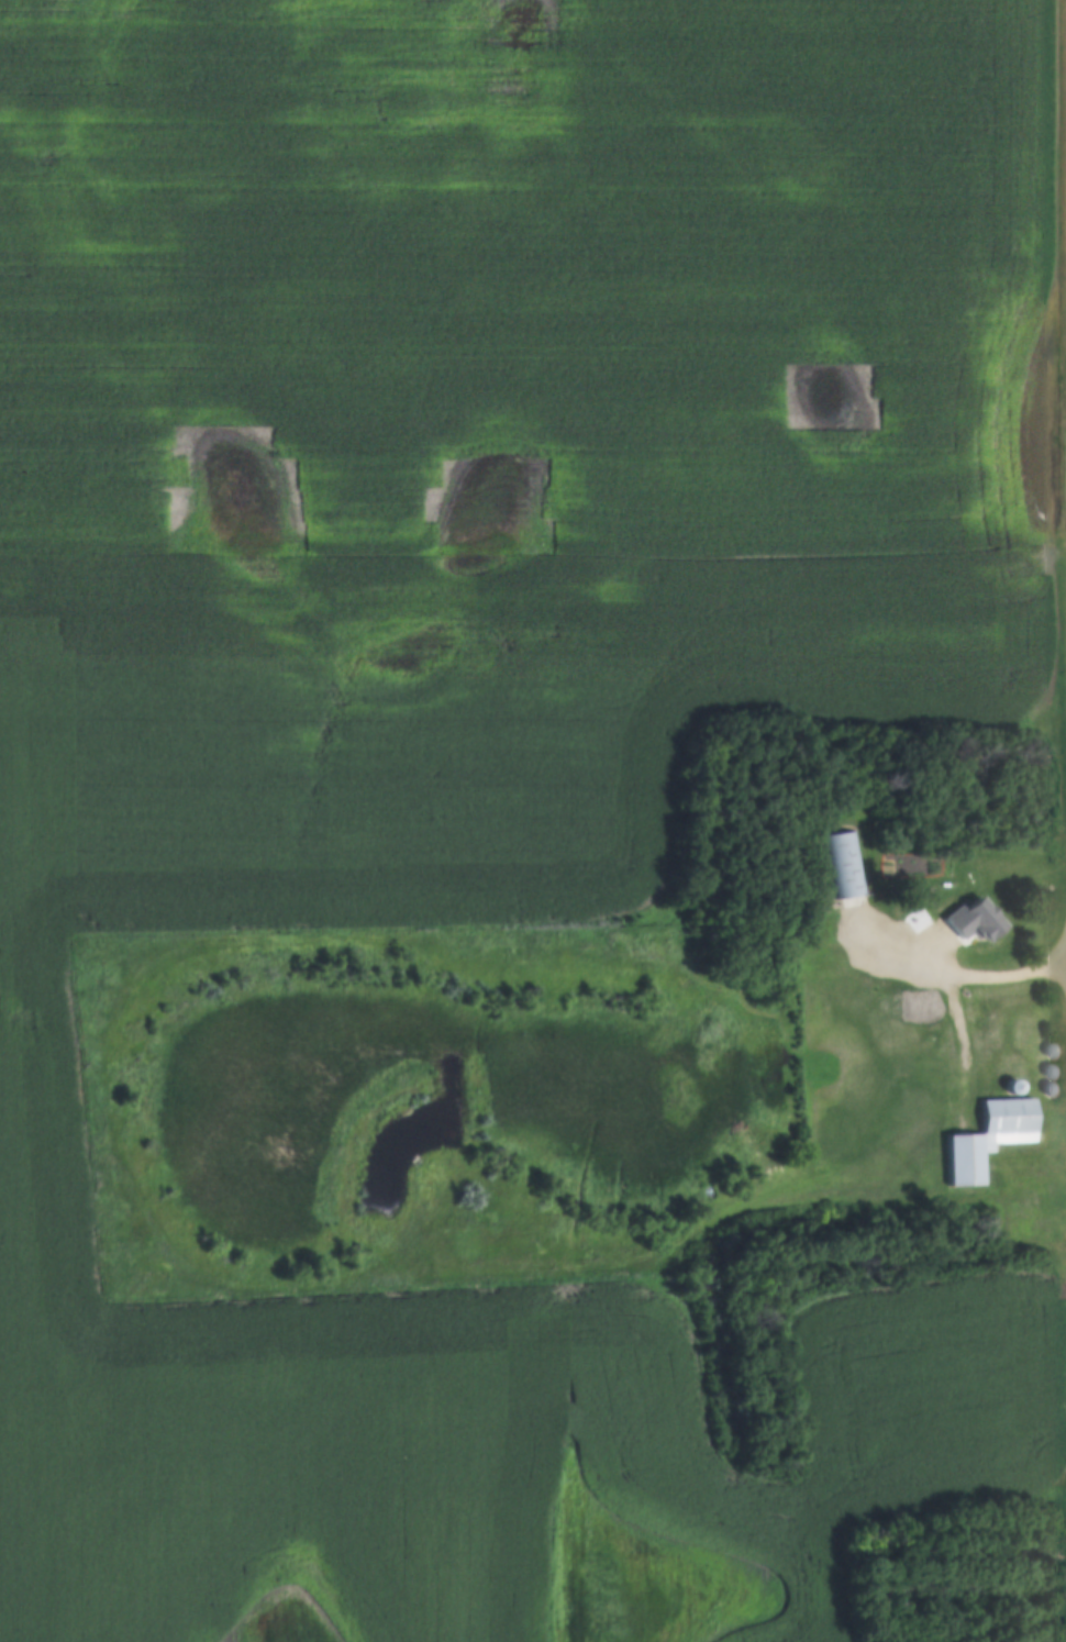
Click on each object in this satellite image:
building: (841, 866)
building: (913, 931)
road: (1065, 965)
road: (1065, 967)
road: (966, 979)

